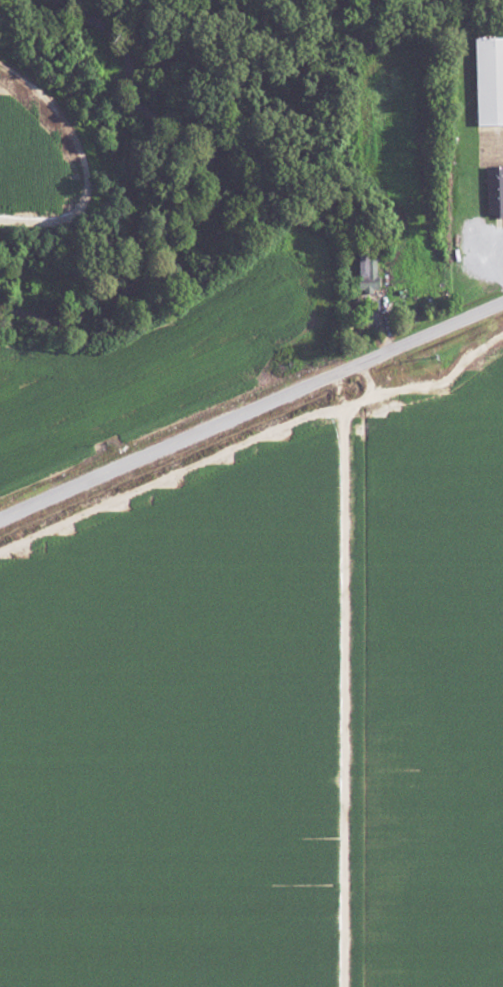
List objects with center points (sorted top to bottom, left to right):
building: (488, 85)
building: (494, 192)
building: (365, 272)
road: (251, 410)
road: (341, 679)

